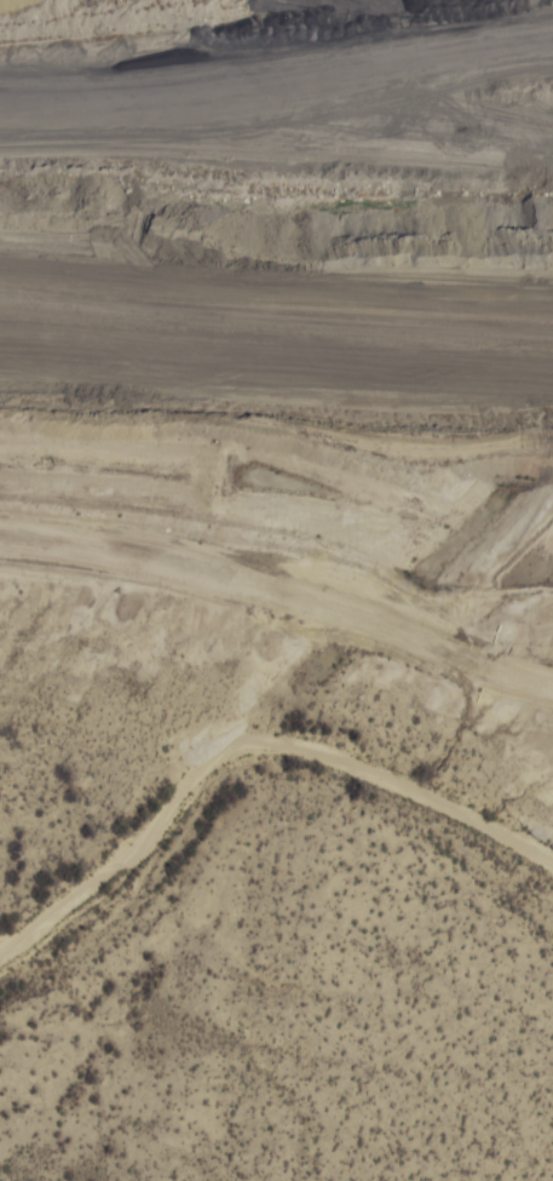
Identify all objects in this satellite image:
quarry: (281, 223)
road: (284, 583)
river: (257, 757)

